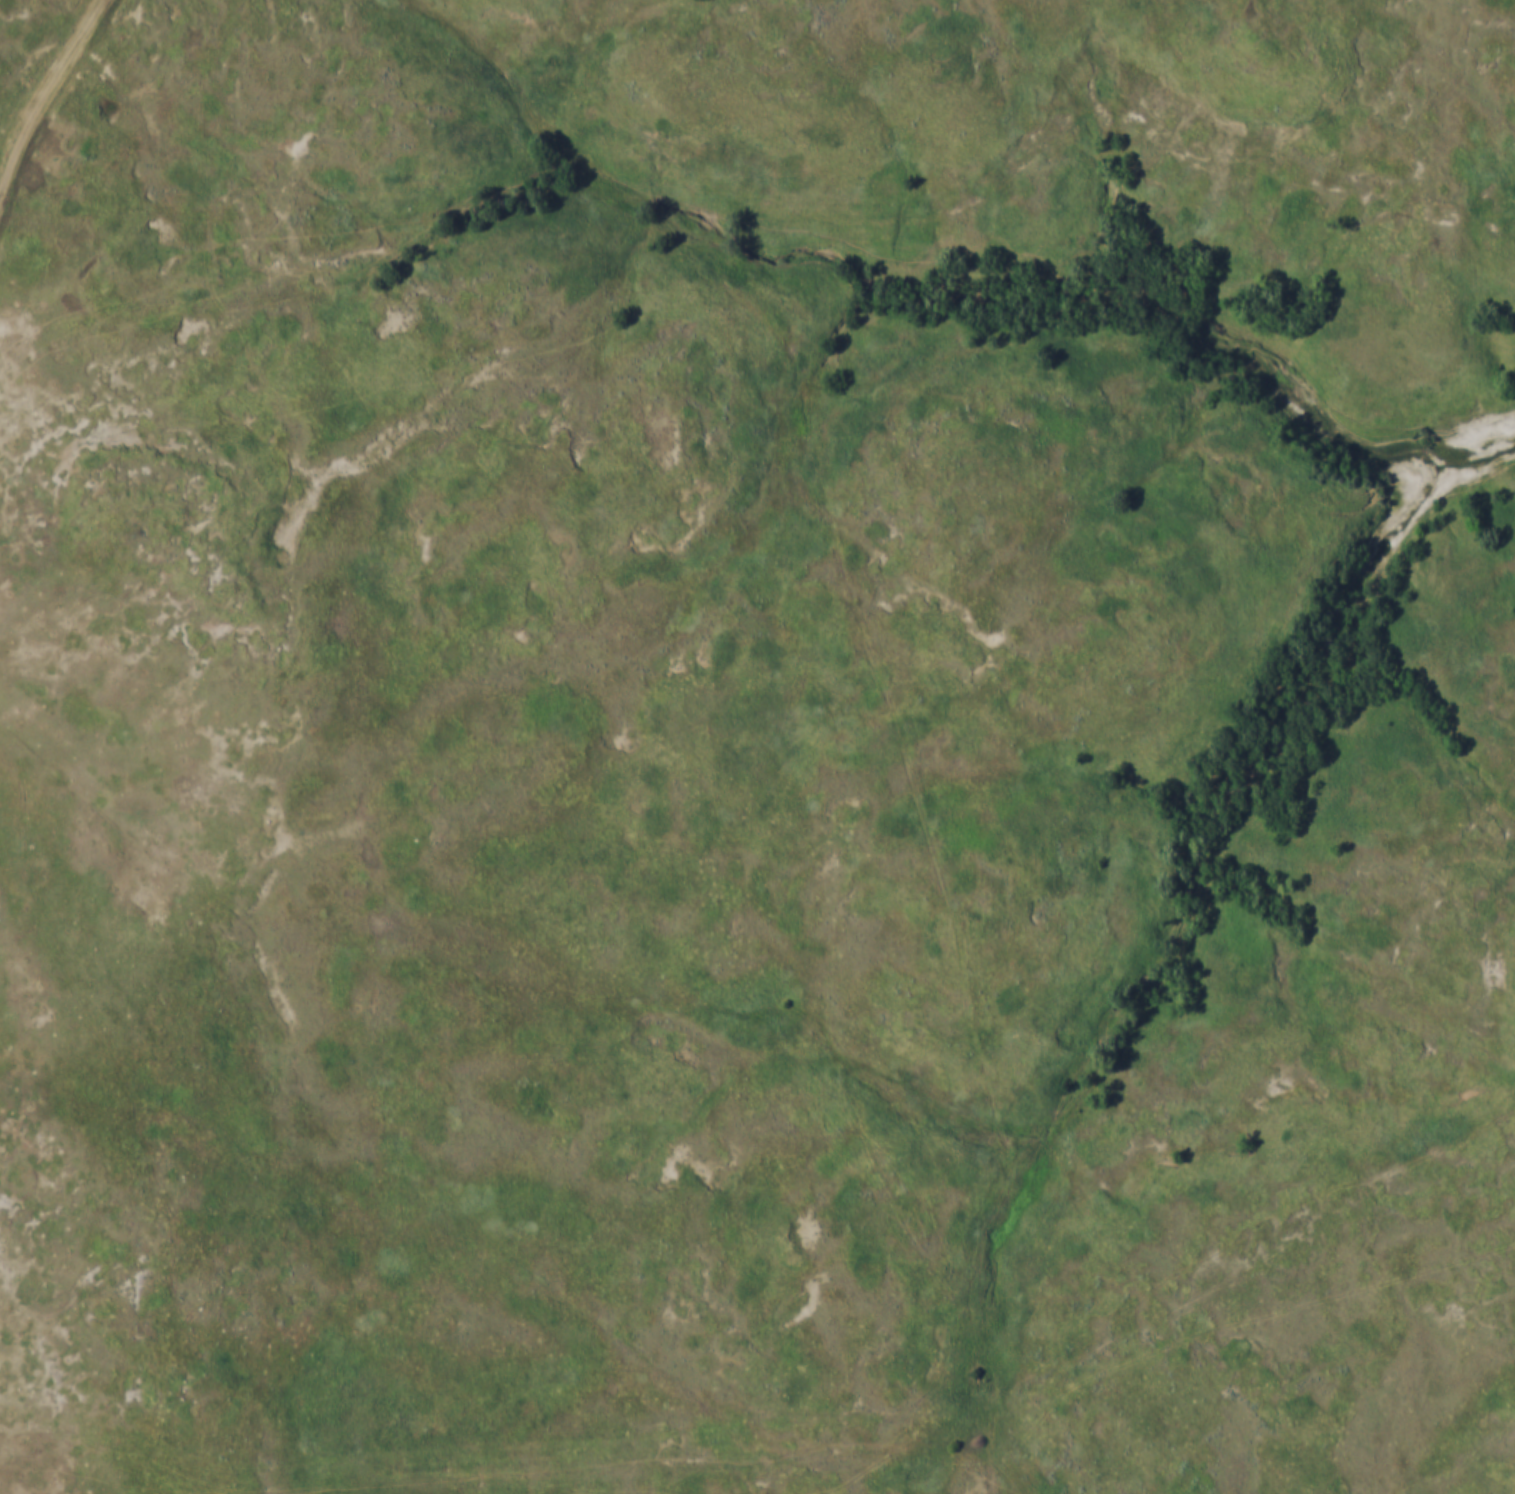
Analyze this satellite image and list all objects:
road: (46, 96)

